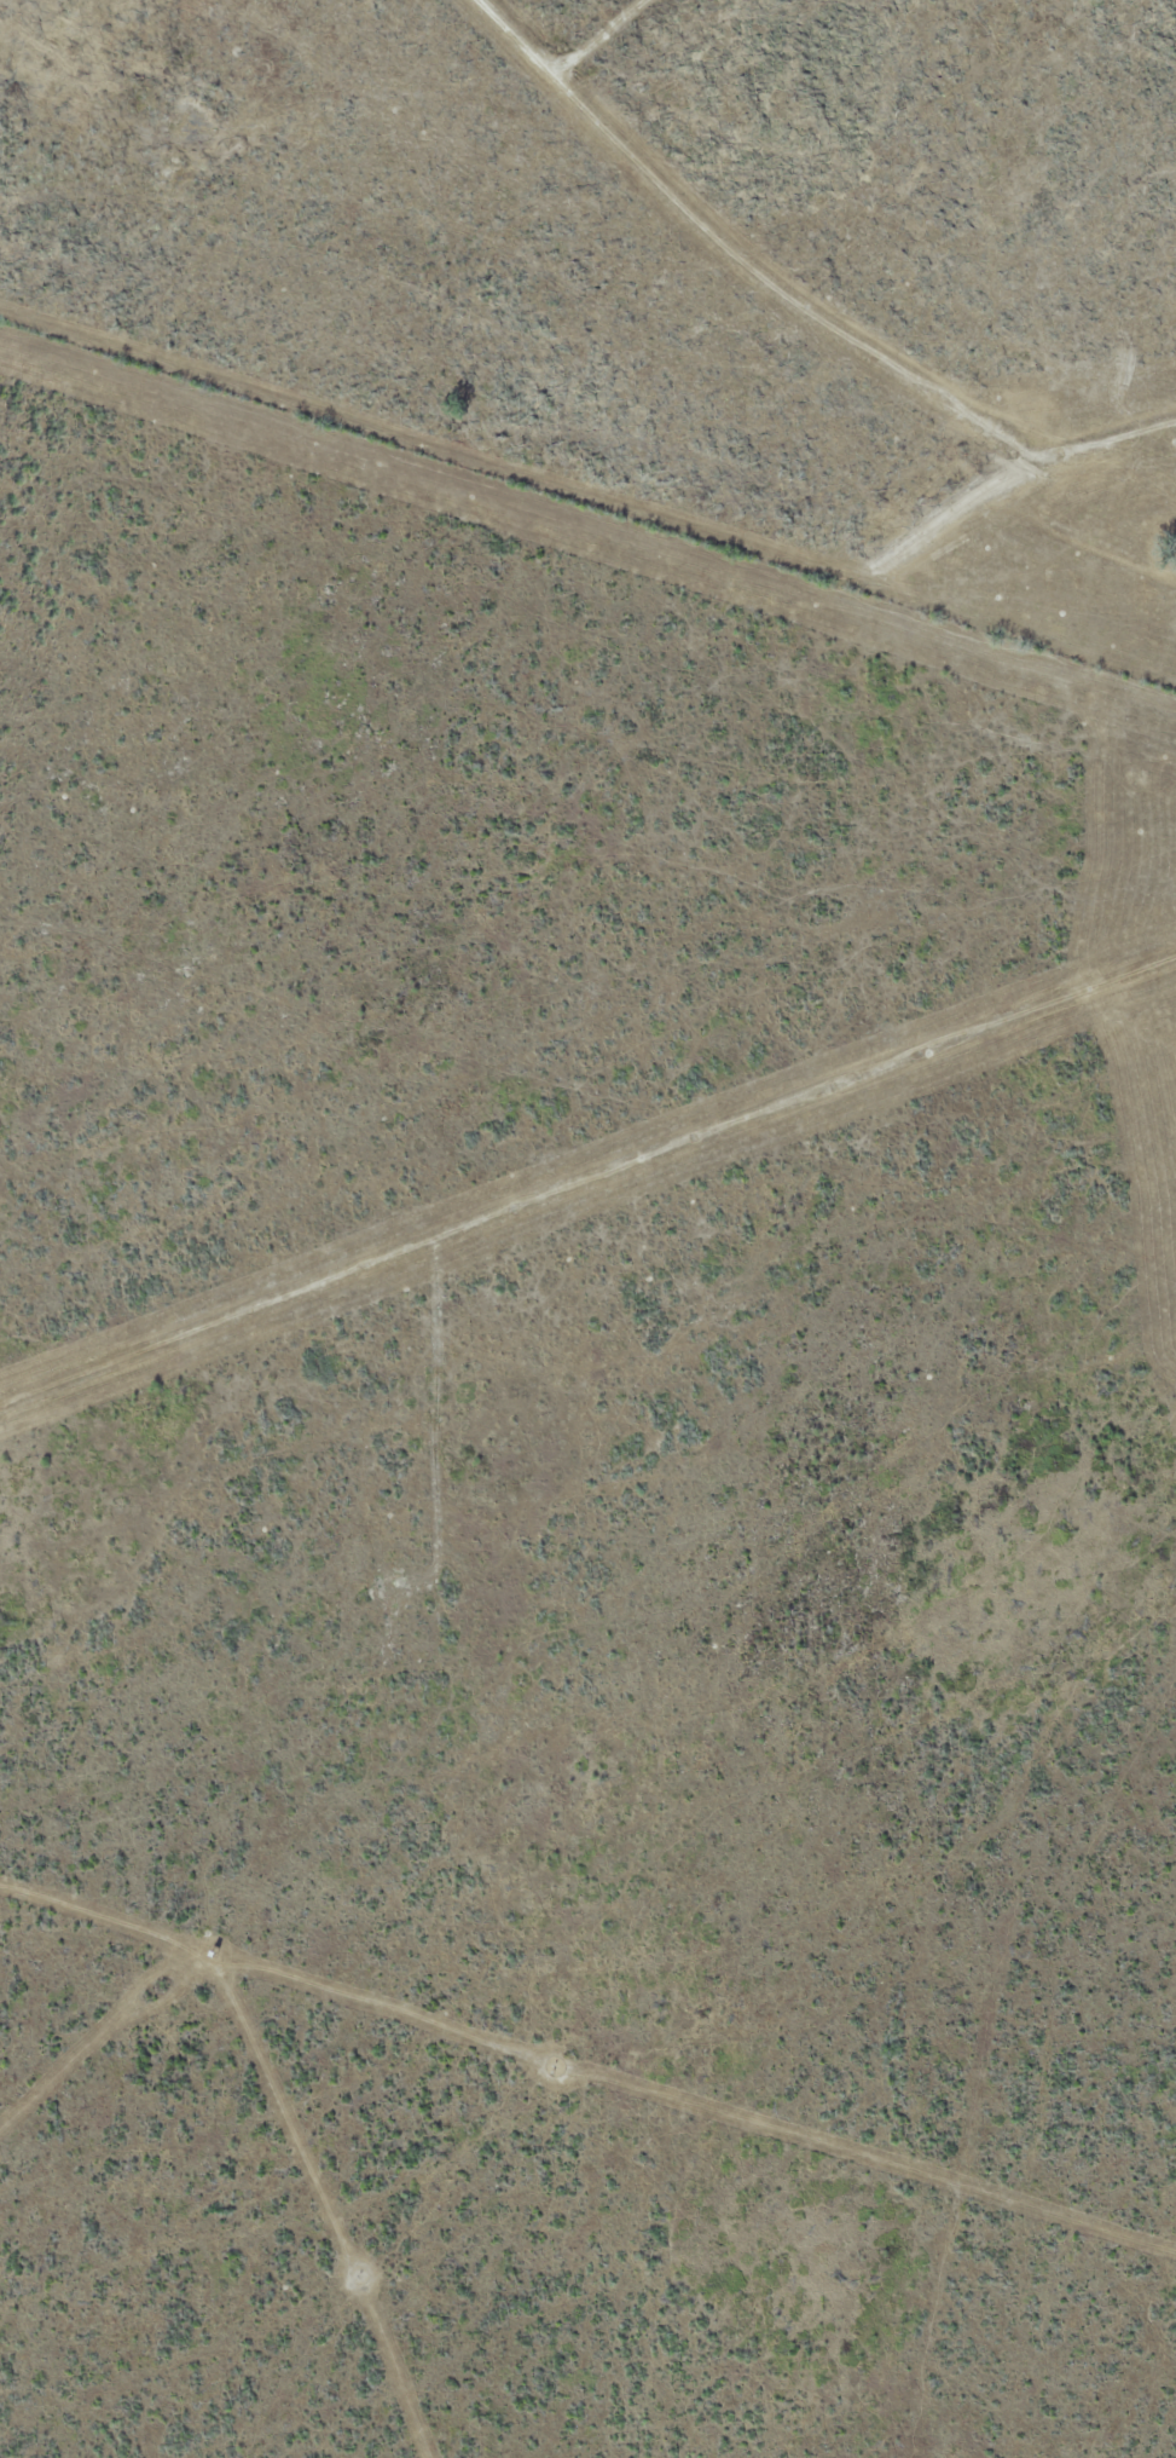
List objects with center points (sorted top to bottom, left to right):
road: (770, 344)

